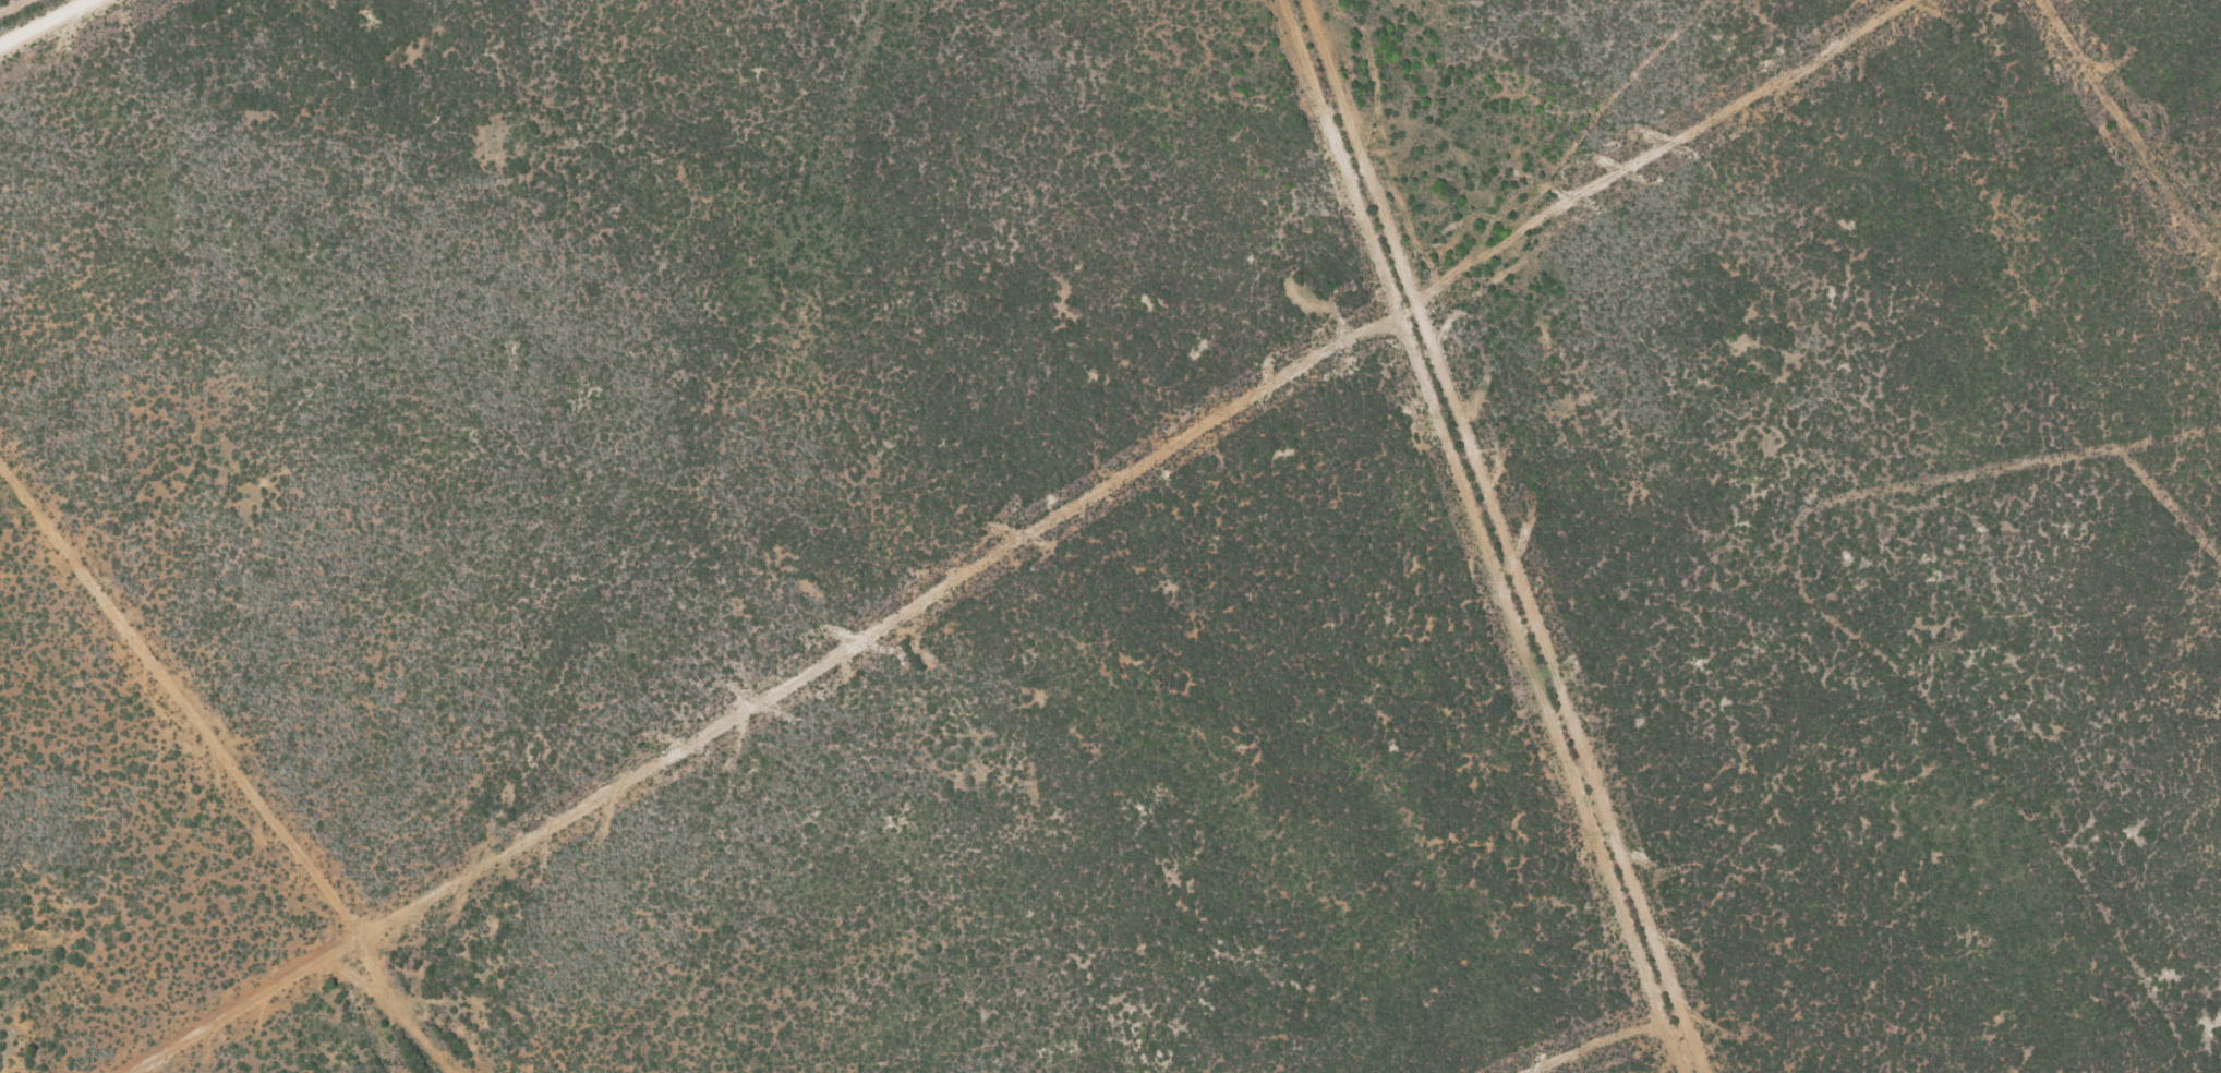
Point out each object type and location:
road: (72, 5)
road: (29, 25)
road: (236, 768)

